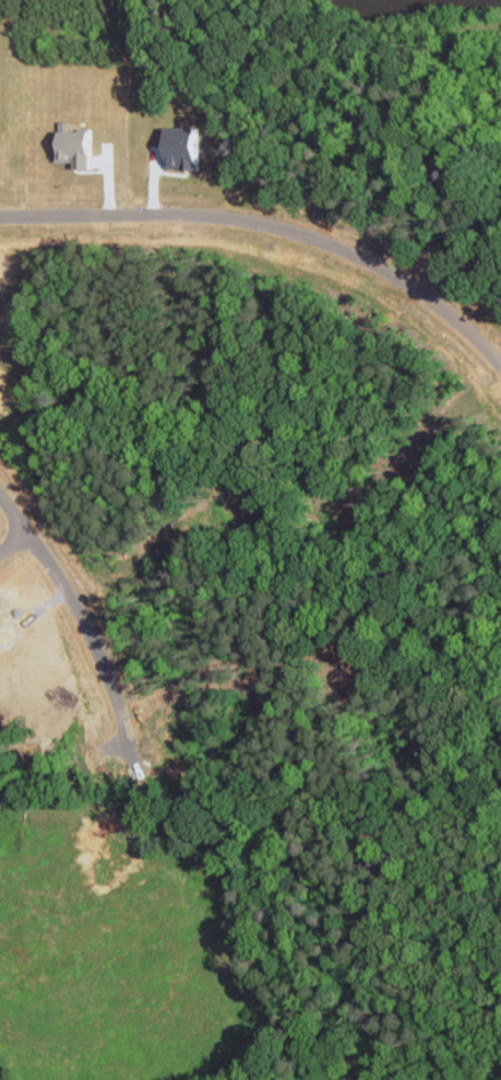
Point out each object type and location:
road: (273, 222)
road: (12, 541)
road: (79, 617)

